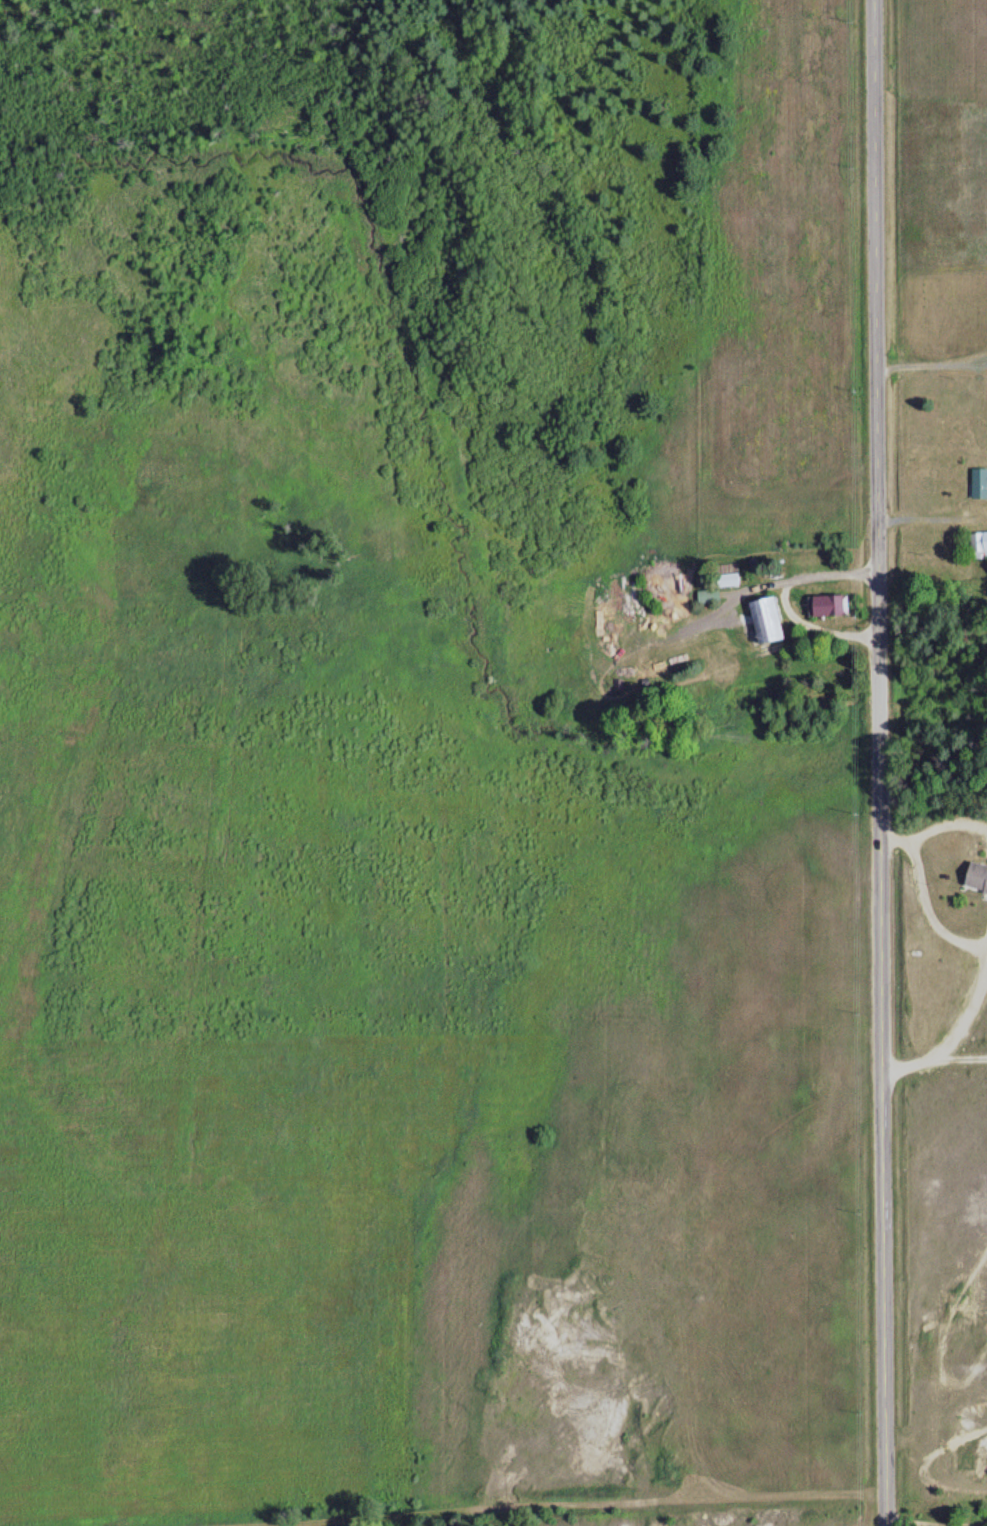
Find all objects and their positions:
building: (980, 483)
building: (980, 545)
building: (837, 606)
building: (774, 622)
road: (880, 763)
building: (978, 875)
road: (955, 1028)
road: (935, 1523)

